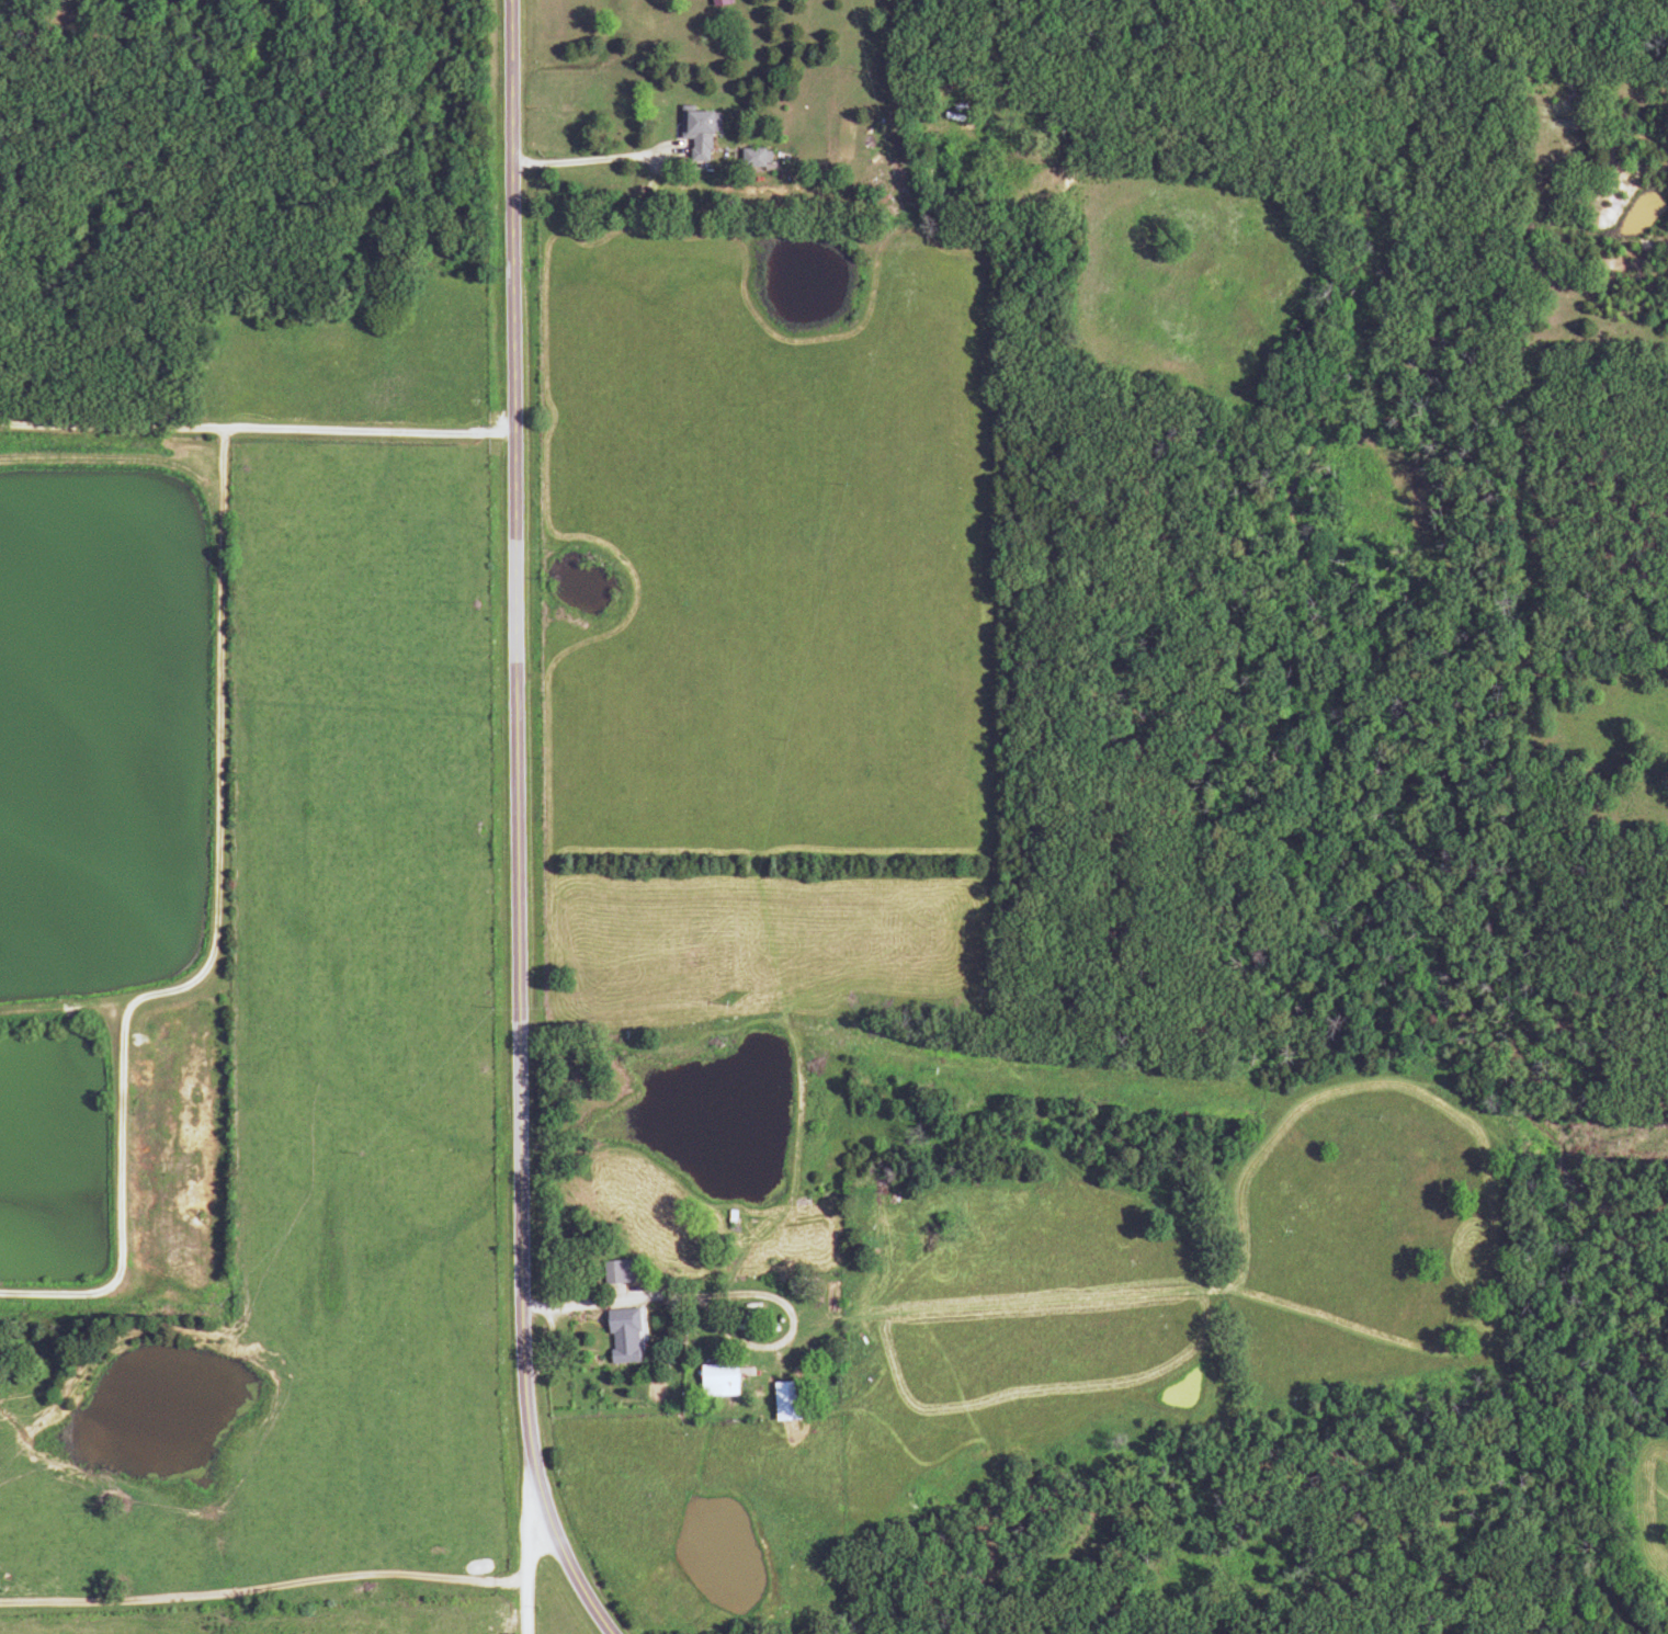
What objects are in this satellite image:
building: (695, 131)
building: (752, 158)
road: (597, 160)
road: (257, 427)
road: (519, 711)
building: (614, 1272)
road: (615, 1302)
road: (796, 1315)
building: (620, 1337)
building: (714, 1382)
building: (782, 1403)
road: (530, 1528)
road: (555, 1535)
road: (264, 1590)

